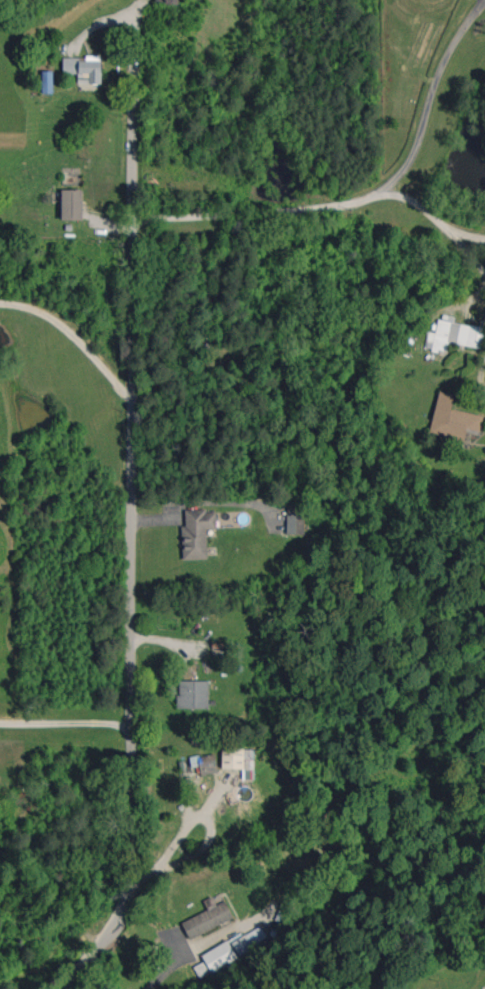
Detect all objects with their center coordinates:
building: (171, 2)
building: (83, 68)
building: (47, 81)
road: (367, 197)
building: (71, 204)
road: (433, 218)
road: (466, 233)
building: (454, 334)
road: (74, 335)
building: (452, 419)
building: (295, 523)
road: (132, 529)
building: (196, 533)
road: (66, 650)
building: (193, 694)
road: (65, 727)
building: (204, 763)
road: (178, 837)
road: (198, 851)
building: (208, 917)
road: (185, 954)
building: (223, 954)

